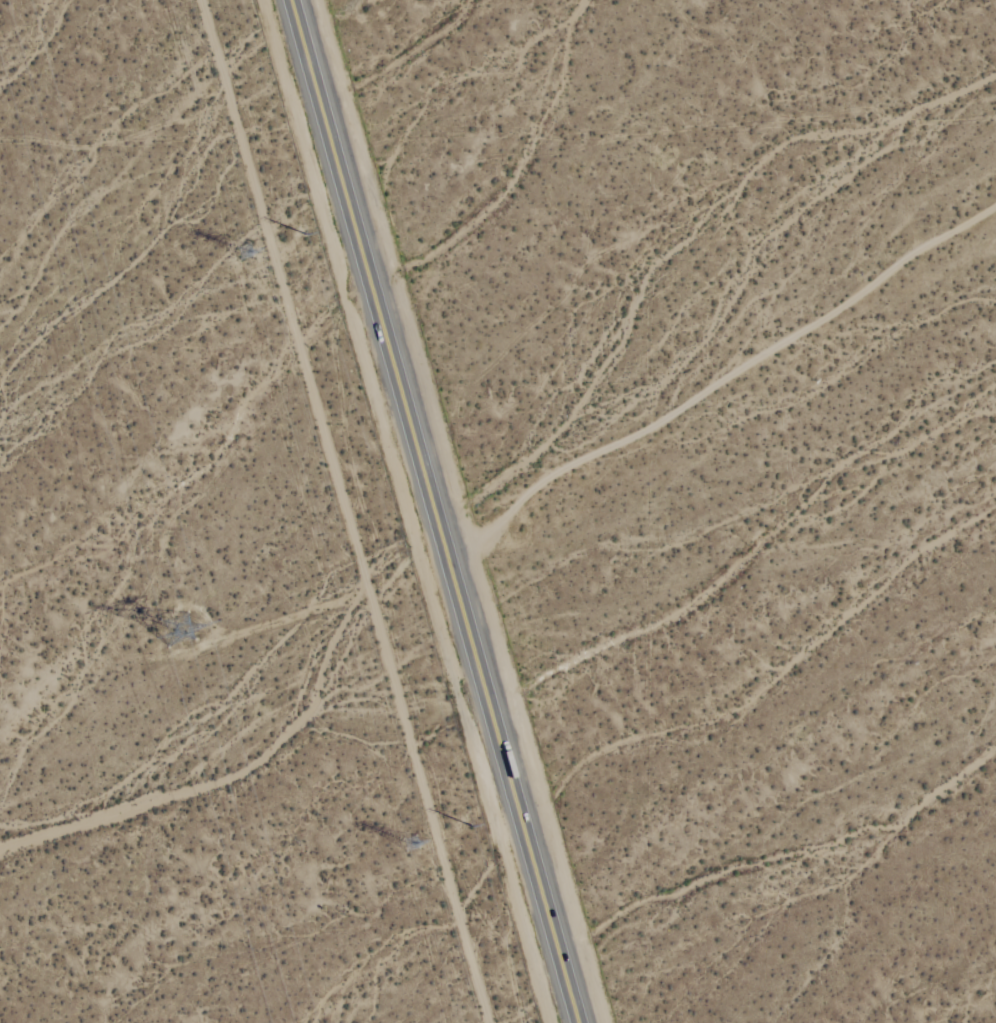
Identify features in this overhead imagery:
power tower: (300, 235)
power tower: (237, 260)
road: (722, 378)
road: (343, 511)
road: (432, 511)
power tower: (183, 630)
power tower: (468, 824)
power tower: (399, 841)

